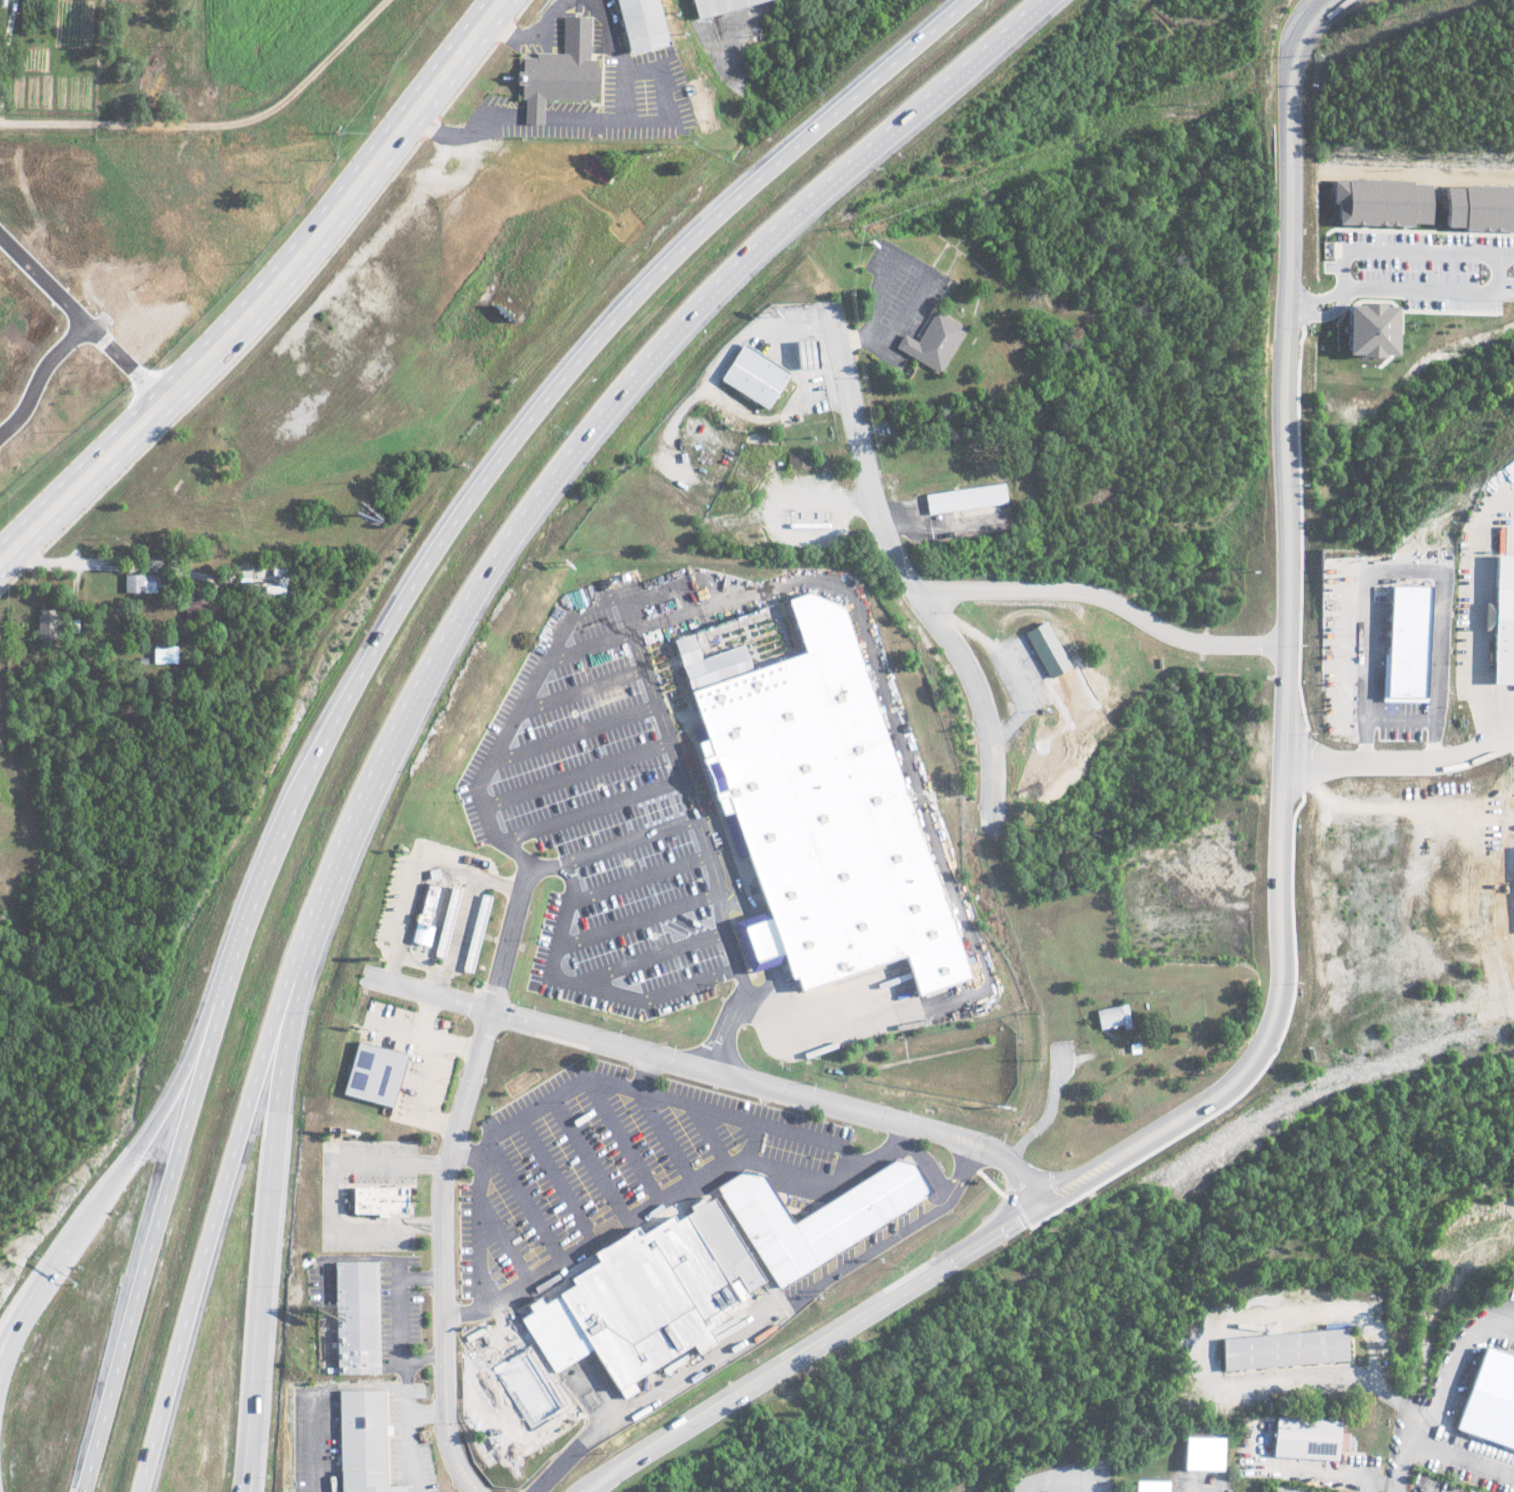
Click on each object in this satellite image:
building: (714, 6)
building: (637, 24)
building: (555, 71)
building: (594, 168)
building: (1379, 201)
building: (1478, 207)
road: (268, 293)
building: (1365, 328)
building: (931, 342)
building: (751, 376)
road: (865, 453)
building: (797, 460)
building: (965, 498)
road: (119, 565)
building: (137, 583)
road: (1110, 600)
building: (189, 606)
building: (1503, 618)
building: (44, 623)
building: (1406, 641)
building: (1043, 649)
road: (368, 653)
building: (163, 654)
road: (442, 655)
road: (517, 725)
road: (1401, 764)
building: (815, 798)
parking lot: (596, 824)
road: (704, 834)
road: (616, 848)
road: (638, 878)
building: (423, 914)
road: (636, 921)
road: (1287, 925)
road: (511, 938)
road: (647, 958)
road: (409, 984)
road: (587, 987)
building: (1111, 1017)
road: (645, 1073)
building: (370, 1074)
road: (759, 1083)
road: (750, 1122)
road: (146, 1138)
road: (492, 1143)
parking lot: (605, 1162)
road: (696, 1184)
building: (377, 1201)
road: (271, 1207)
road: (441, 1249)
building: (703, 1275)
road: (44, 1293)
road: (463, 1316)
building: (355, 1318)
road: (403, 1320)
building: (1280, 1350)
road: (2, 1371)
road: (2, 1380)
building: (514, 1393)
building: (1489, 1401)
building: (1305, 1439)
road: (410, 1440)
building: (360, 1442)
building: (1200, 1454)
road: (1403, 1456)
road: (249, 1460)
road: (255, 1460)
building: (1147, 1487)
road: (0, 1488)
road: (1198, 1488)

